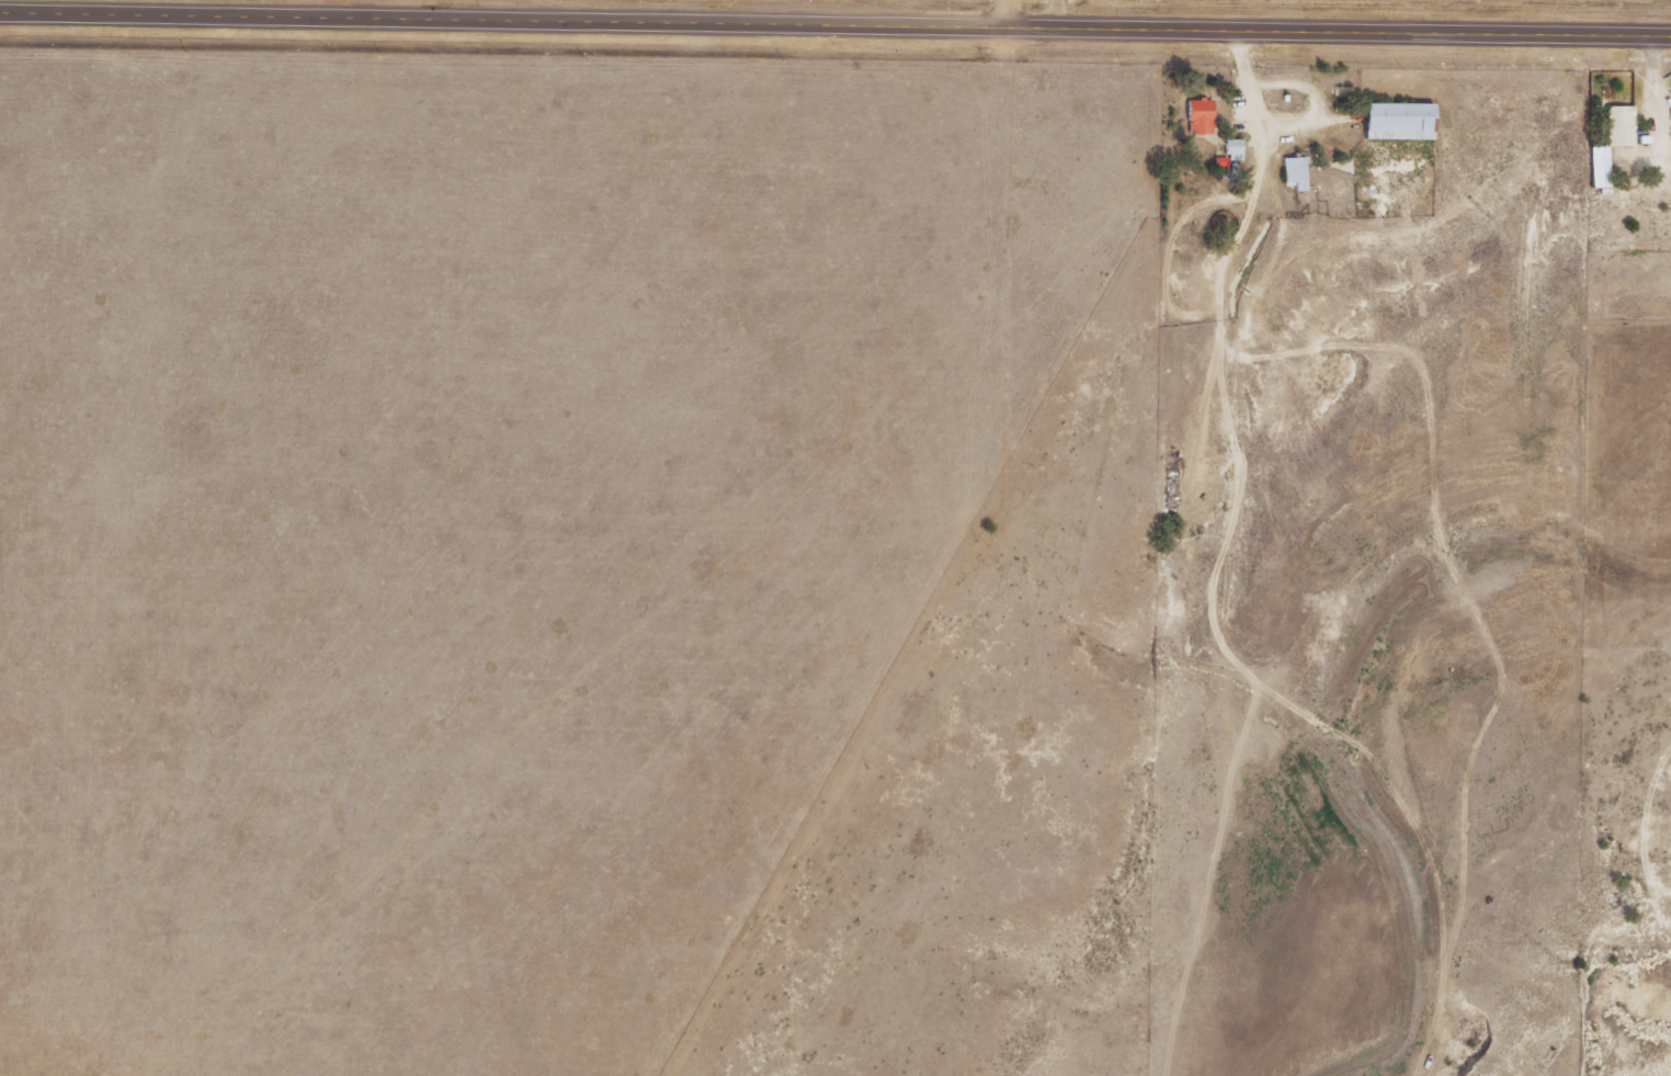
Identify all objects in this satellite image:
road: (1008, 14)
road: (1113, 15)
road: (834, 25)
building: (1202, 116)
building: (1400, 121)
building: (1622, 126)
building: (1602, 167)
building: (1296, 172)

